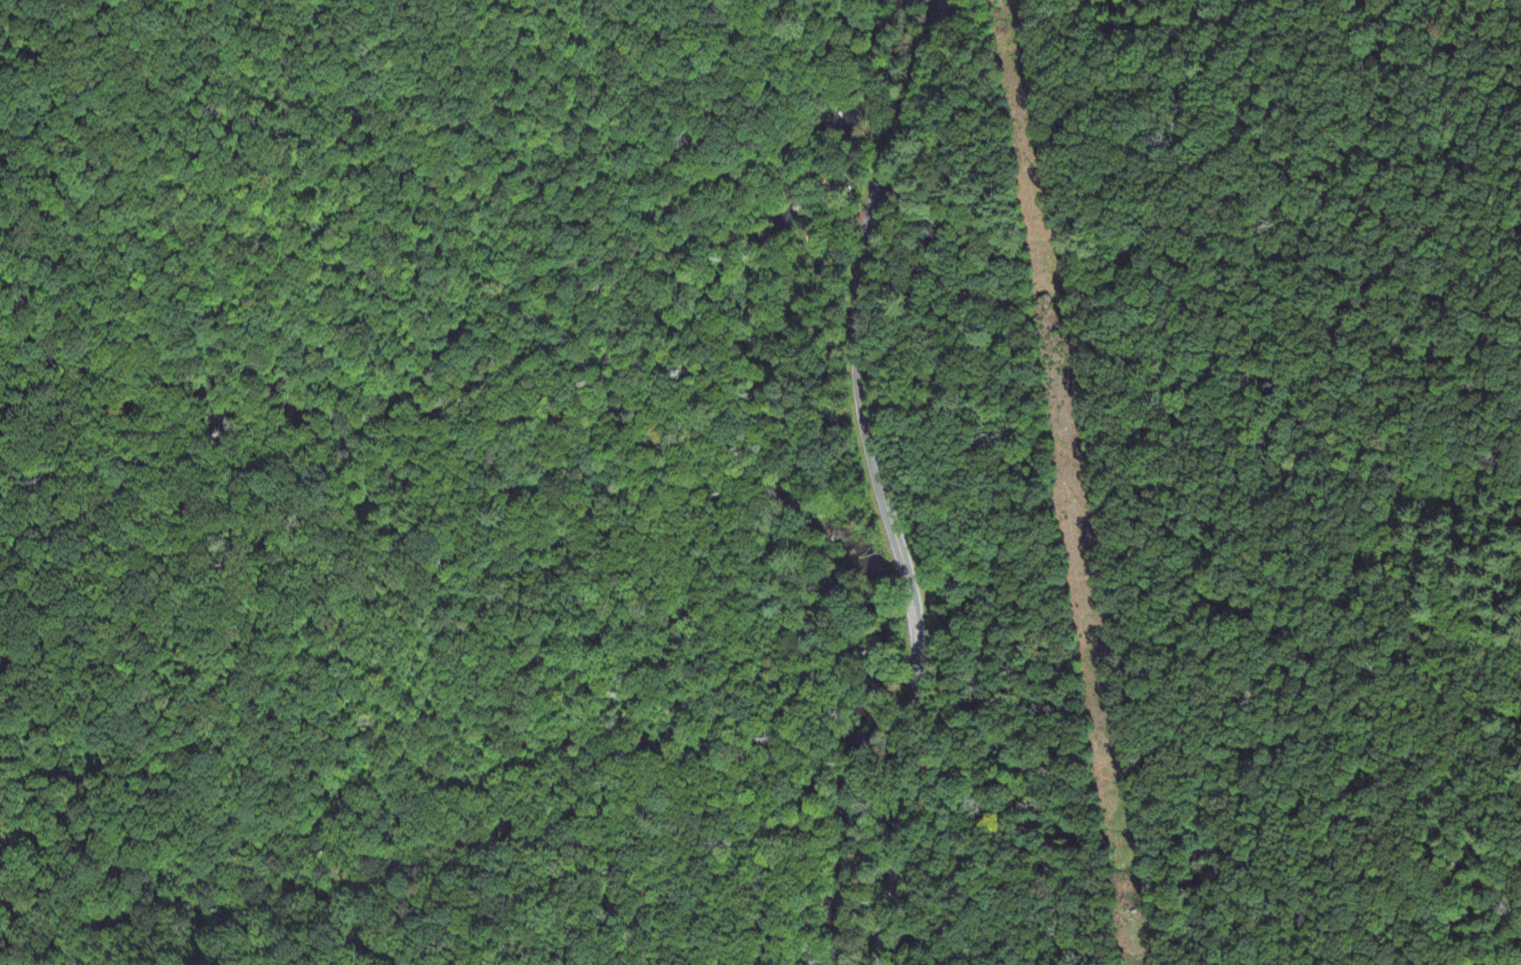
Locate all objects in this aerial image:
road: (877, 478)

